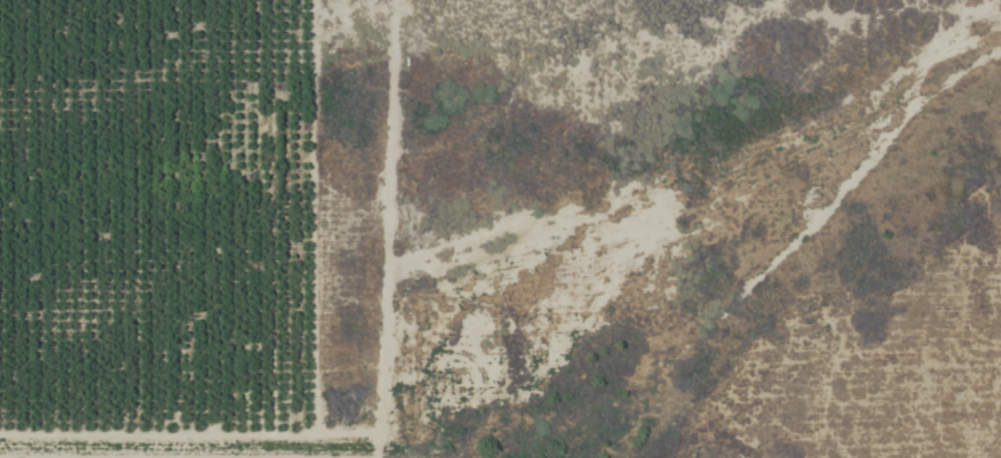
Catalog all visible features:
road: (385, 64)
road: (370, 136)

